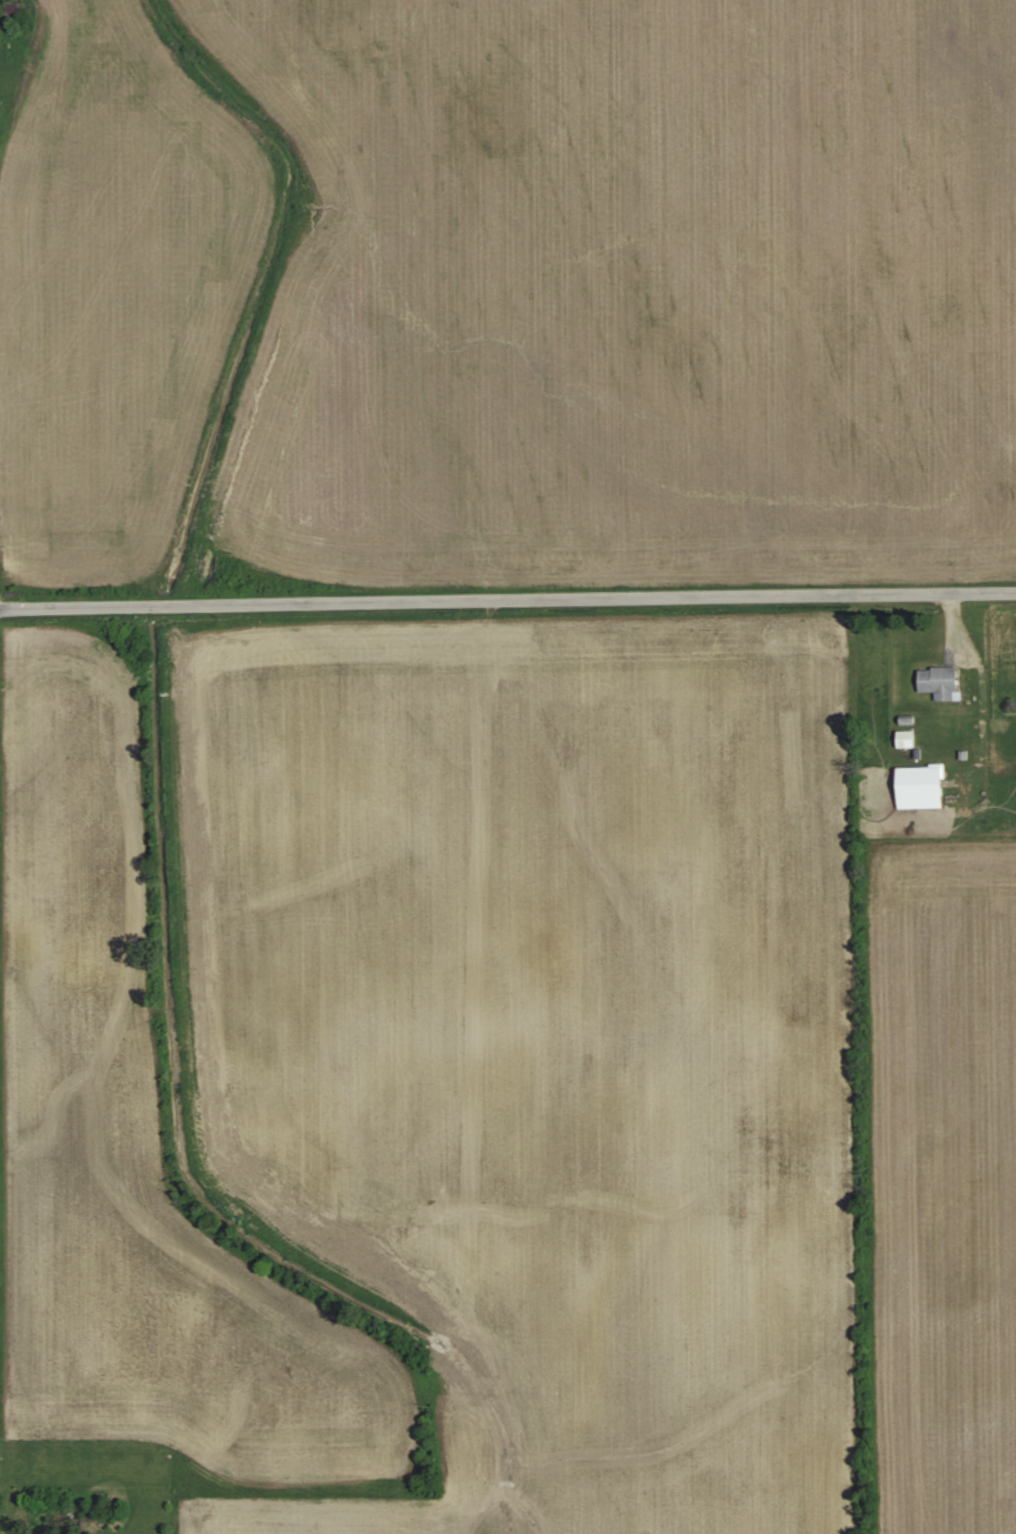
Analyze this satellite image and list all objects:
building: (11, 10)
road: (508, 598)
building: (937, 682)

